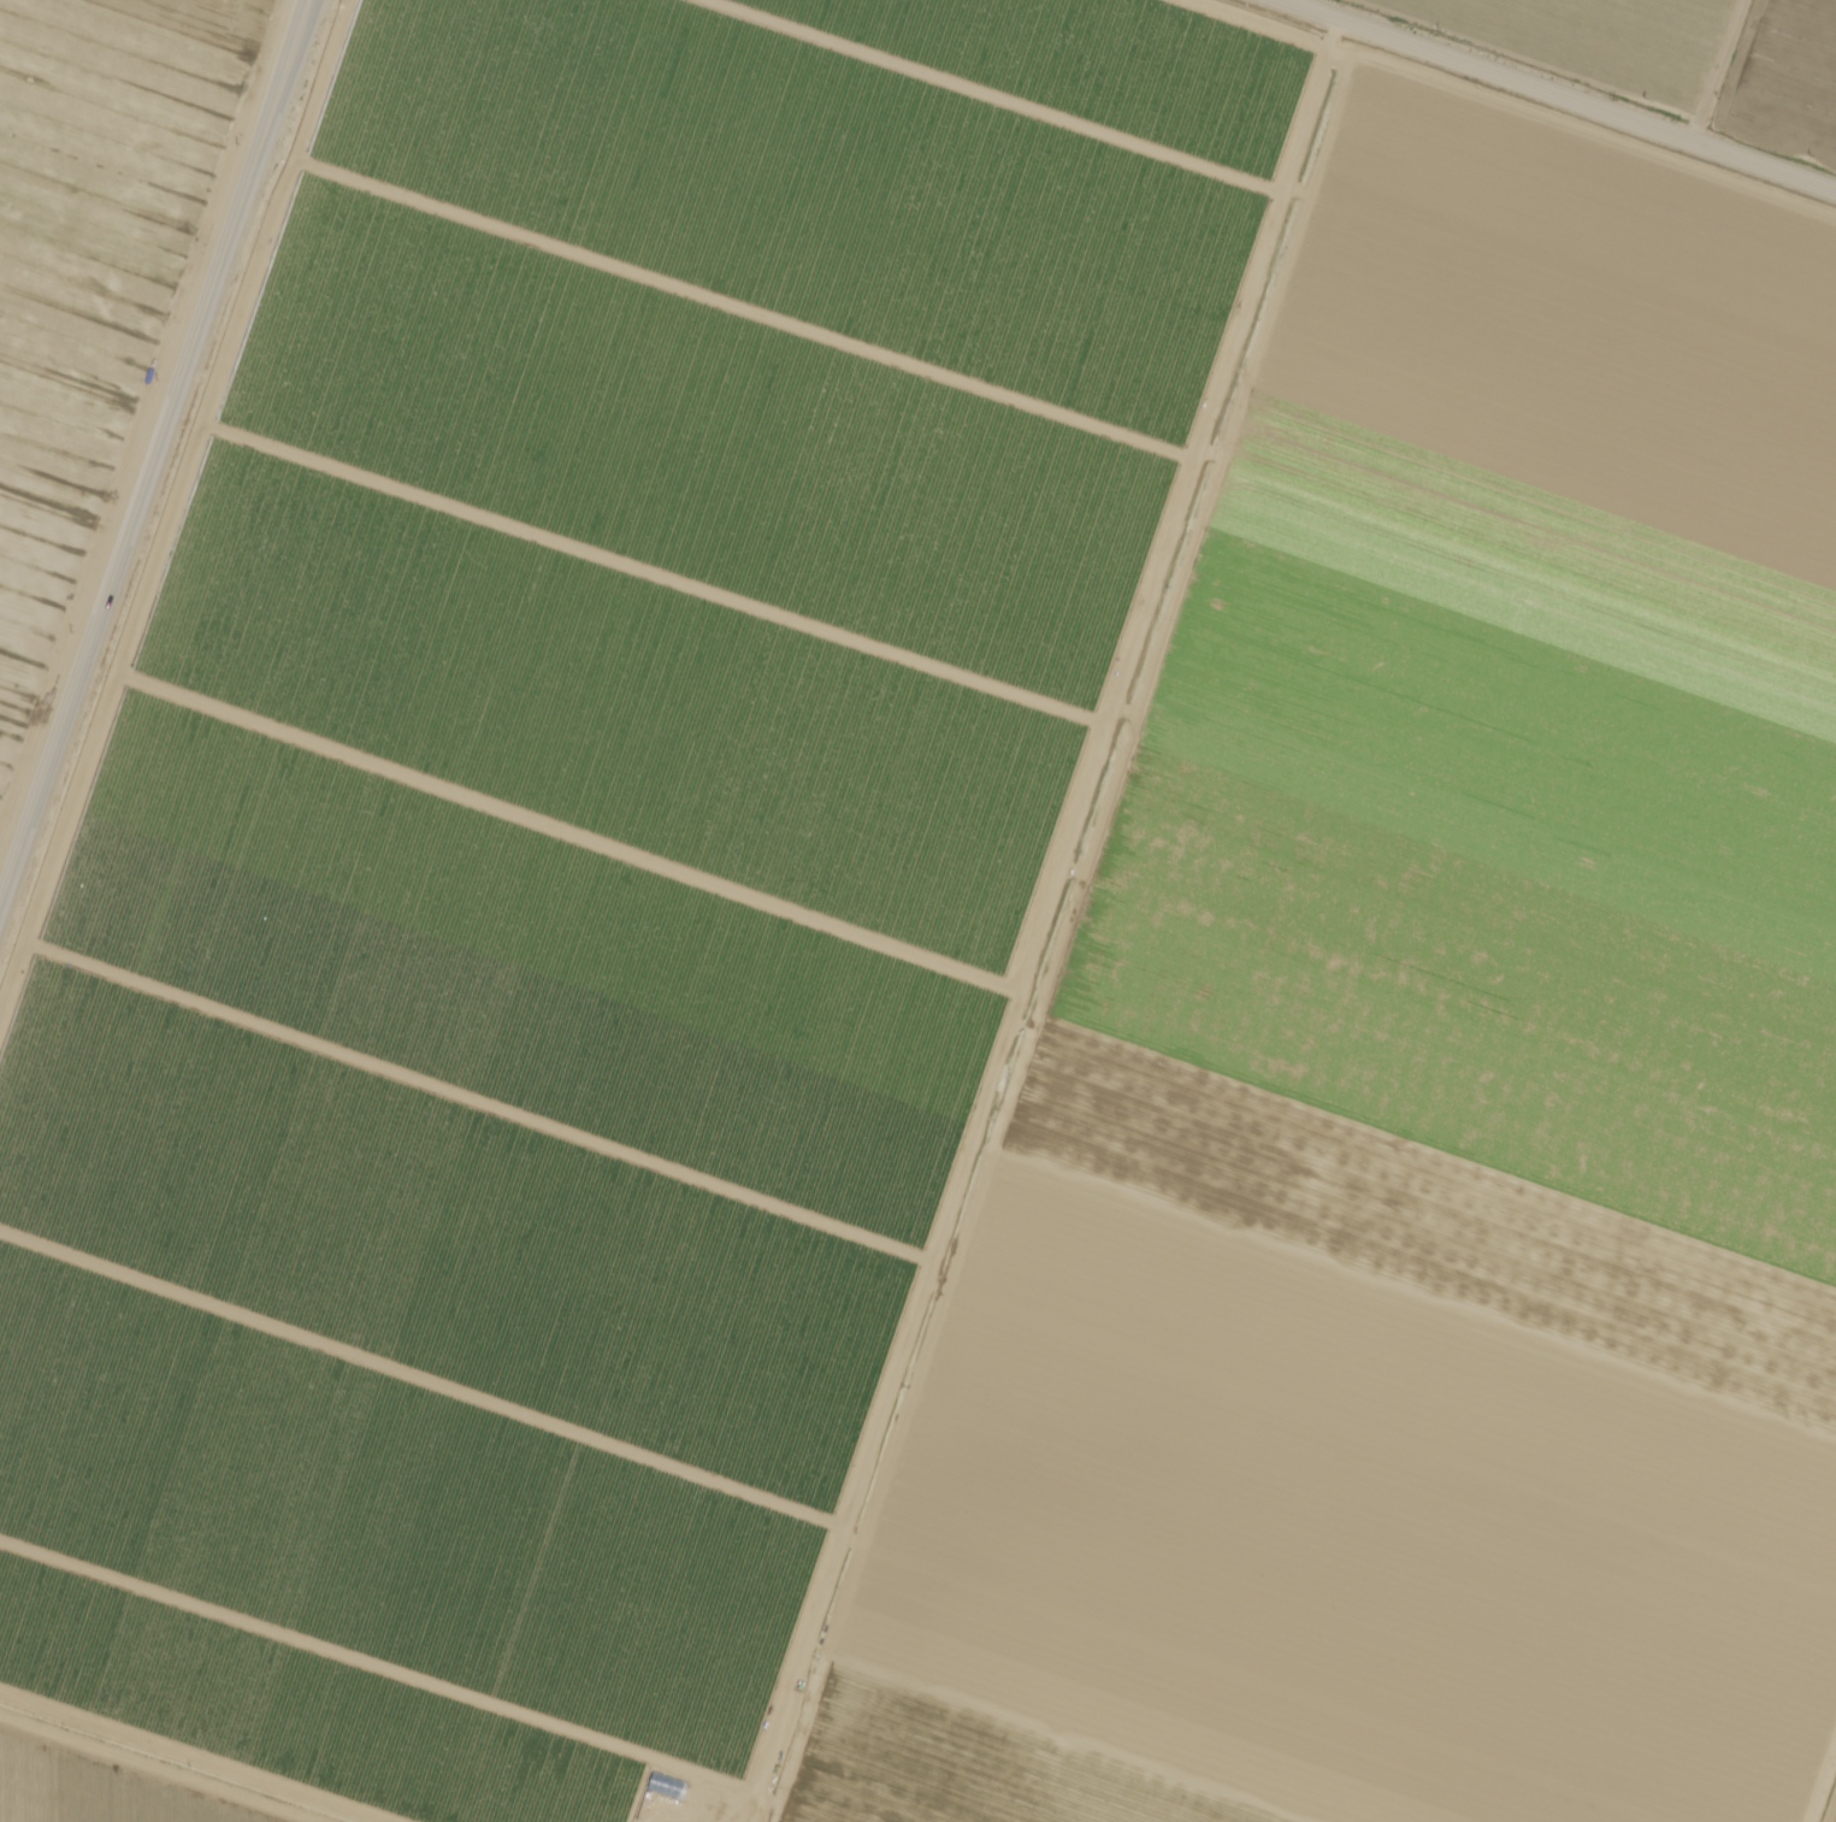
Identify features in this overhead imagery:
crop: (250, 7)
crop: (1586, 41)
crop: (1783, 82)
road: (1547, 100)
crop: (114, 136)
crop: (61, 425)
road: (153, 444)
crop: (20, 678)
crop: (583, 857)
crop: (1423, 1081)
road: (175, 1758)
road: (1820, 1777)
crop: (93, 1791)
crop: (1834, 1815)

